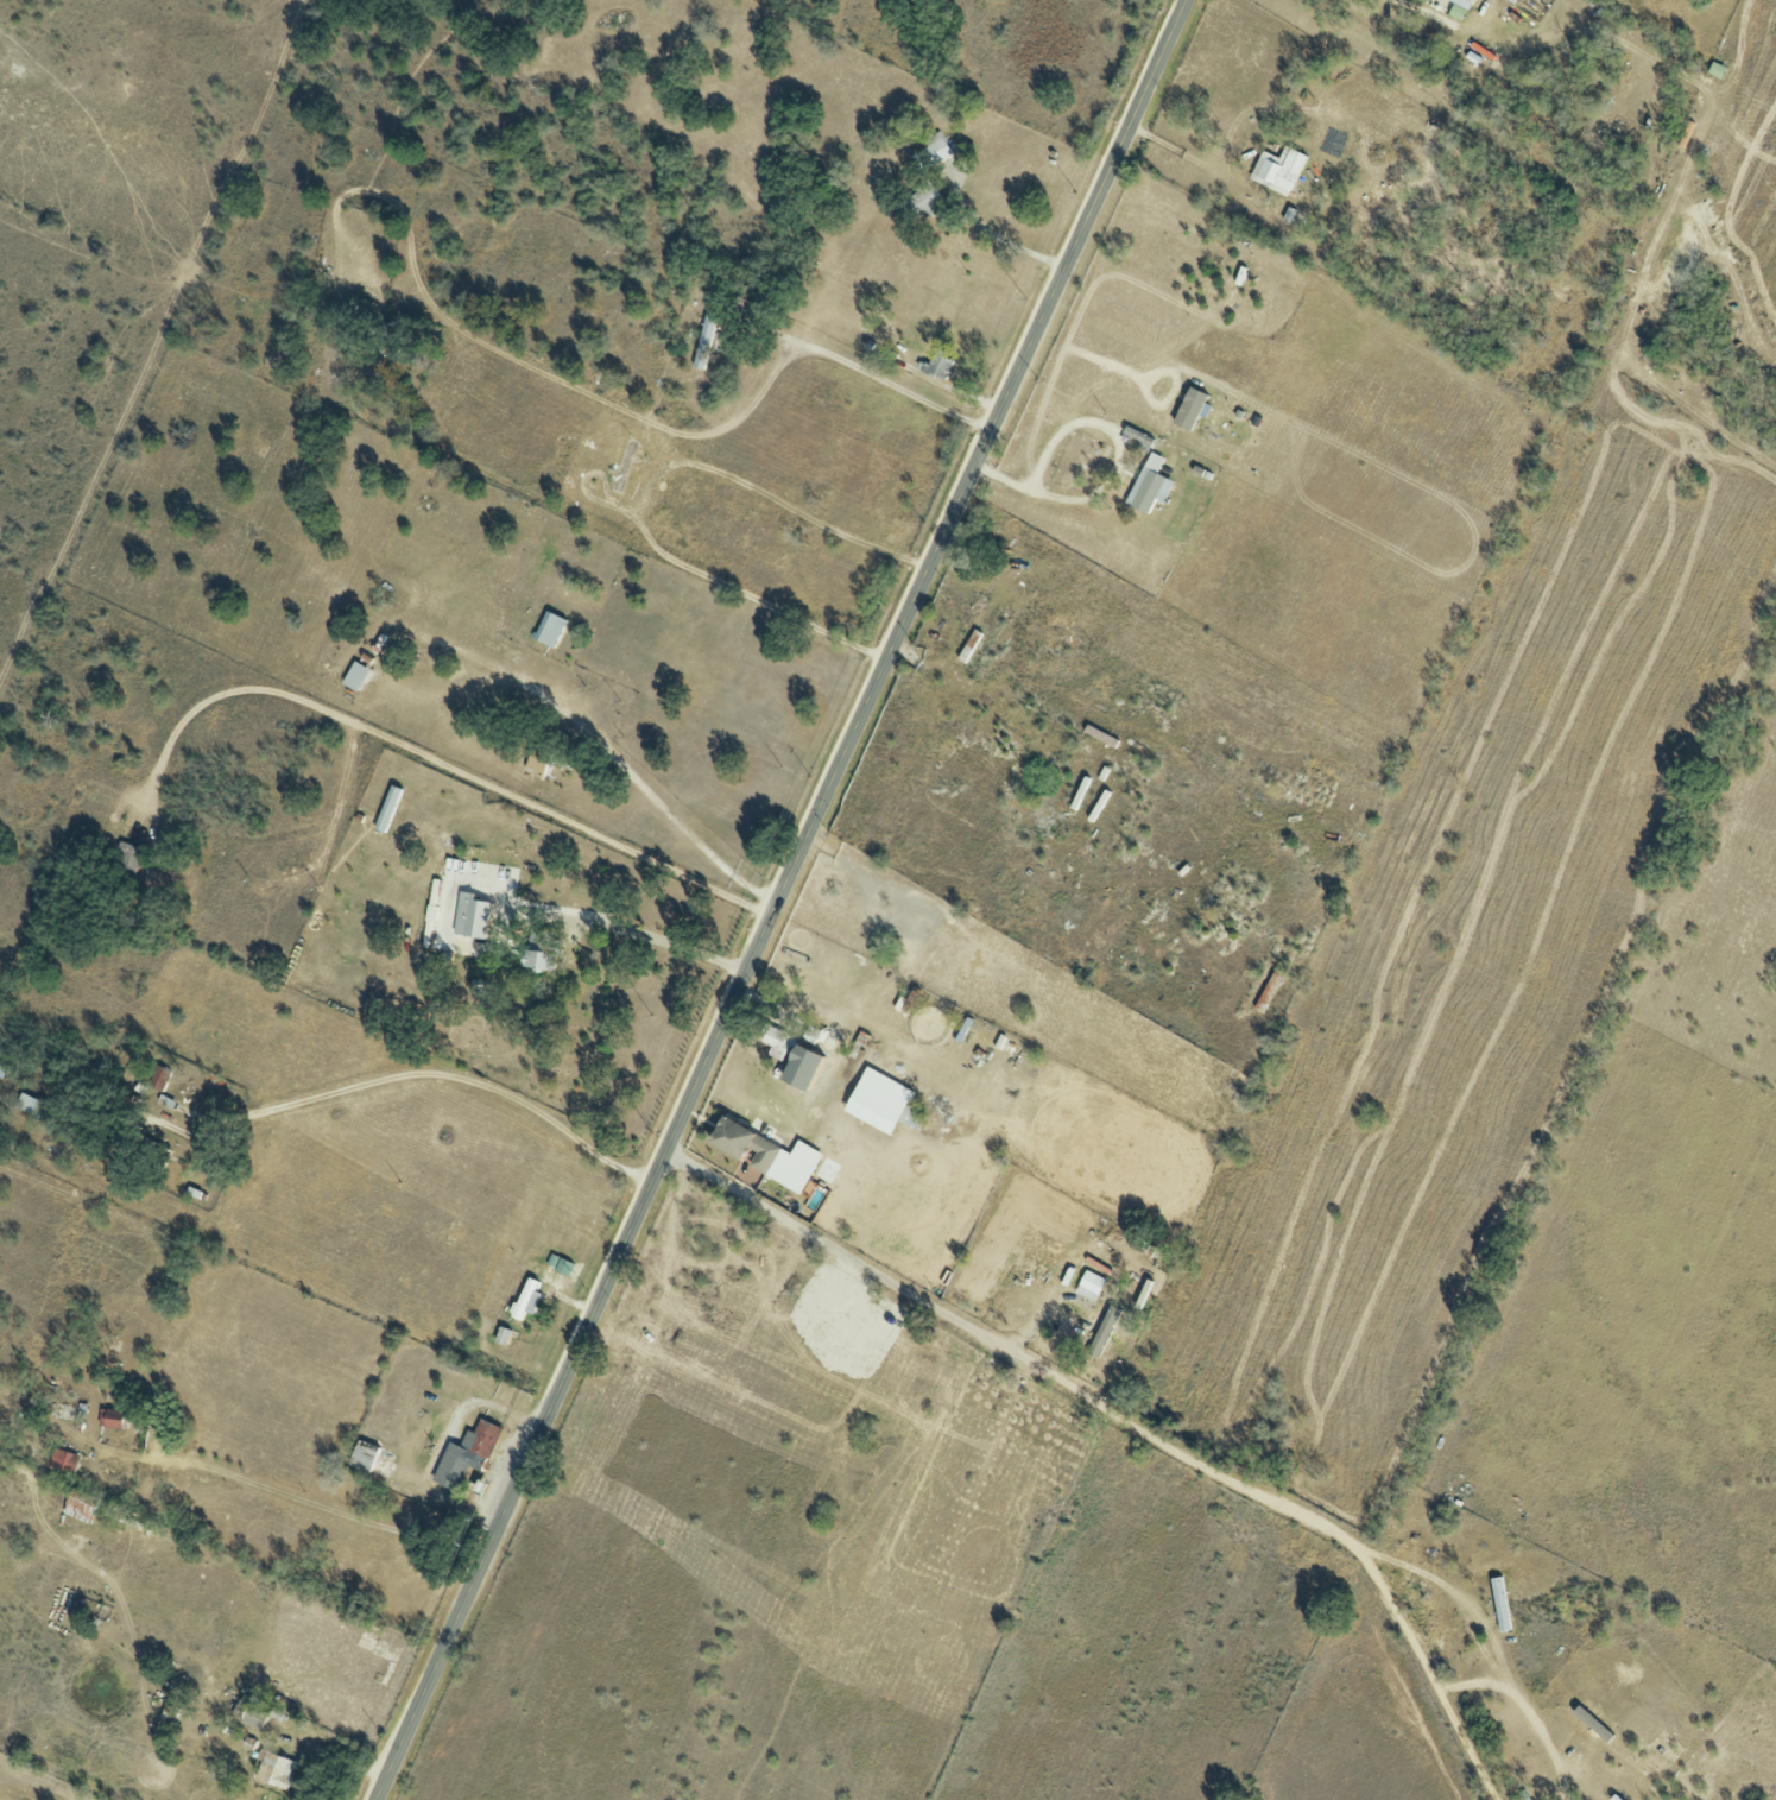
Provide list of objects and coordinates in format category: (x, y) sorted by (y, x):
building: (1511, 1)
road: (1412, 8)
building: (1458, 8)
road: (1188, 144)
building: (936, 146)
building: (1277, 169)
building: (923, 200)
road: (991, 235)
road: (1075, 315)
building: (703, 342)
building: (936, 365)
road: (565, 384)
road: (1143, 391)
road: (354, 404)
building: (1188, 409)
building: (1137, 437)
building: (621, 466)
road: (1114, 467)
building: (1149, 485)
road: (753, 490)
road: (676, 562)
building: (549, 629)
road: (579, 653)
building: (354, 676)
road: (1012, 689)
road: (631, 699)
road: (438, 763)
road: (685, 829)
building: (127, 855)
road: (780, 898)
building: (470, 916)
road: (631, 933)
building: (538, 952)
building: (1268, 991)
building: (776, 1042)
building: (4, 1059)
building: (799, 1068)
road: (416, 1074)
building: (158, 1079)
building: (877, 1101)
building: (766, 1155)
building: (558, 1264)
building: (1089, 1286)
building: (525, 1299)
building: (503, 1335)
building: (112, 1419)
road: (1135, 1427)
building: (466, 1454)
building: (364, 1455)
building: (63, 1460)
building: (80, 1505)
road: (1461, 1596)
building: (1499, 1604)
road: (1527, 1709)
building: (252, 1712)
building: (276, 1770)

